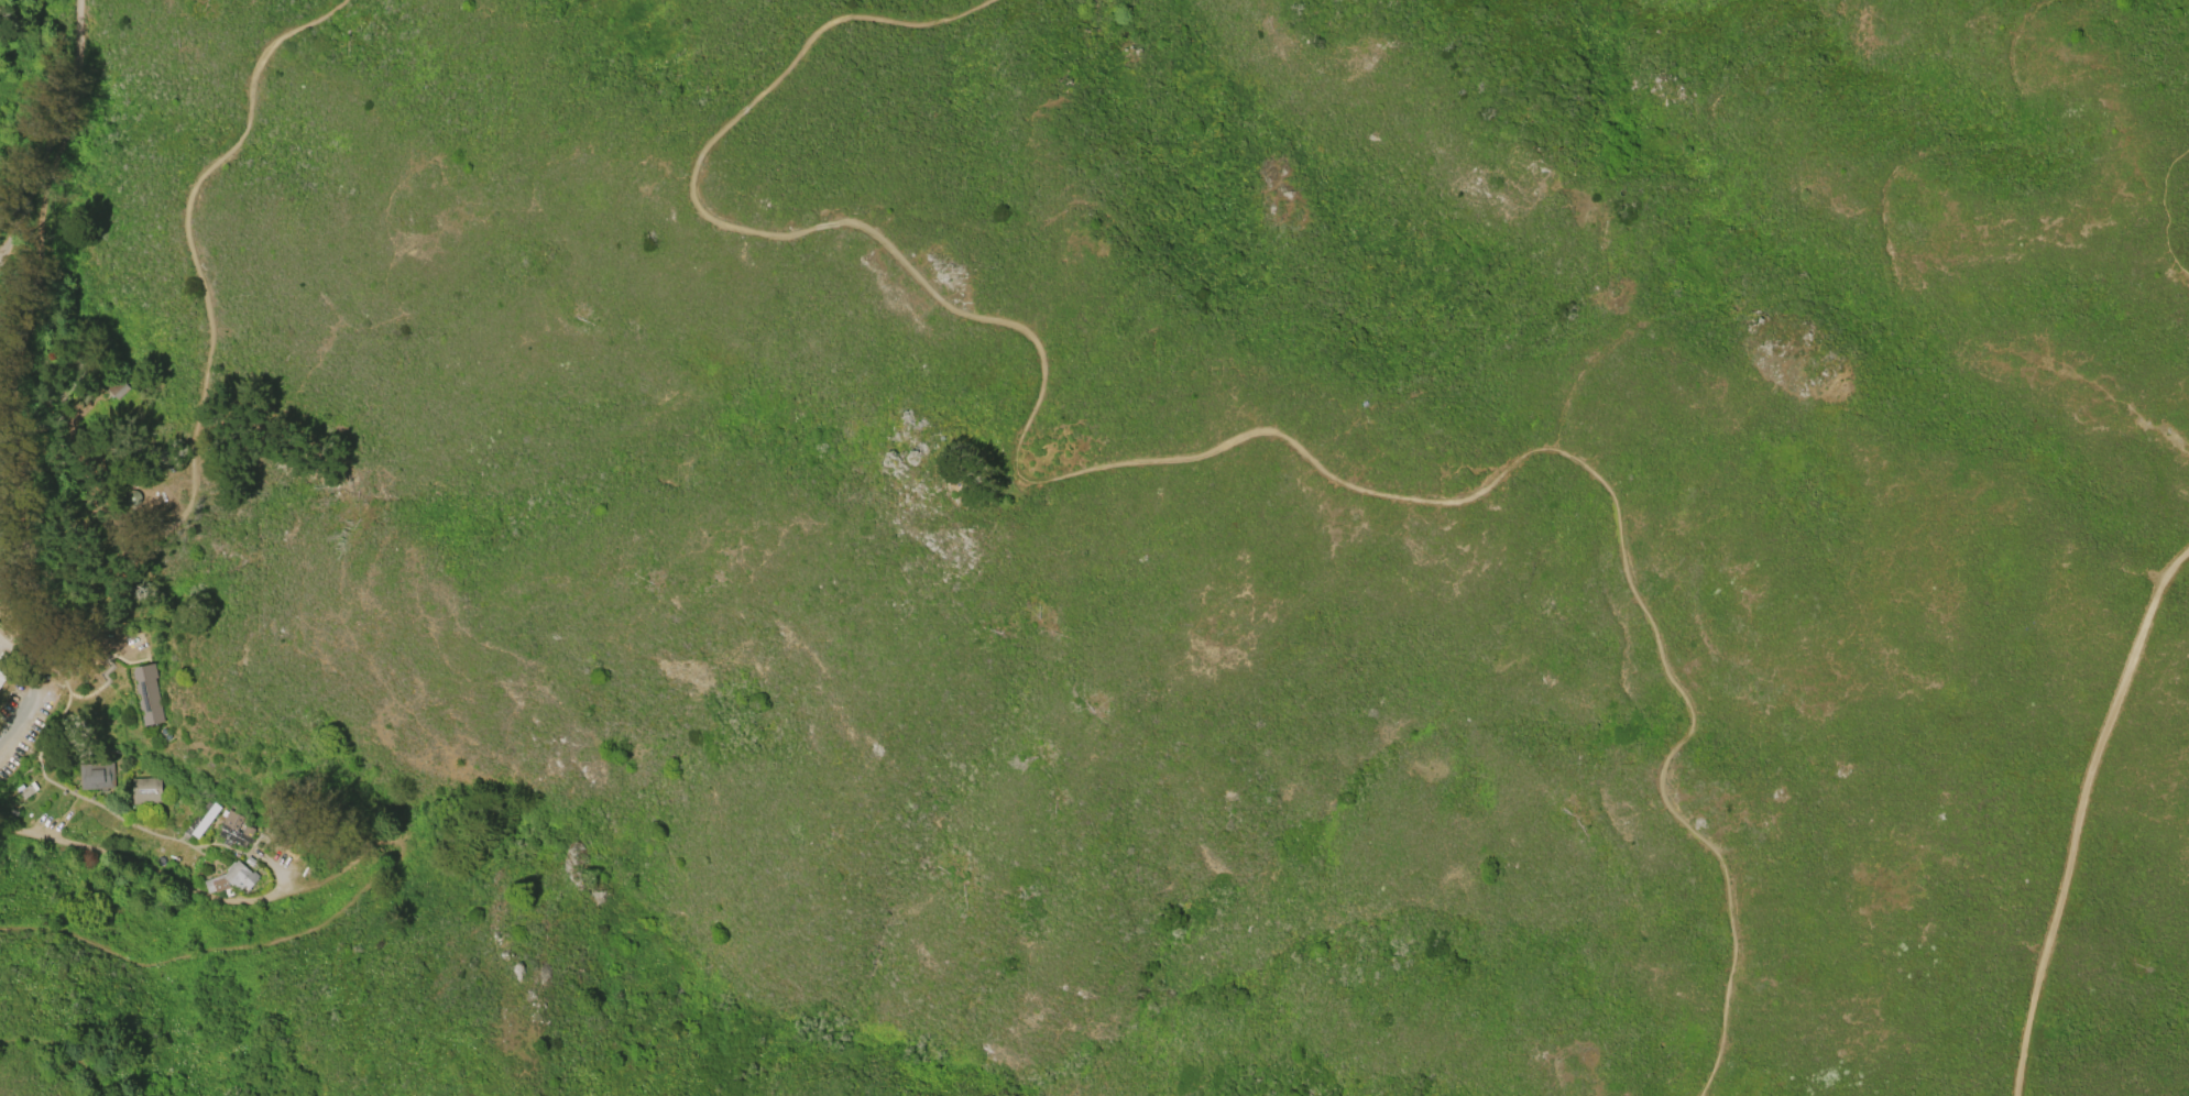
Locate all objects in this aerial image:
road: (79, 28)
road: (50, 166)
road: (2164, 213)
road: (190, 254)
road: (59, 380)
road: (1189, 457)
building: (962, 472)
building: (2, 676)
building: (147, 695)
building: (96, 777)
building: (145, 790)
road: (2080, 815)
building: (205, 820)
road: (403, 859)

